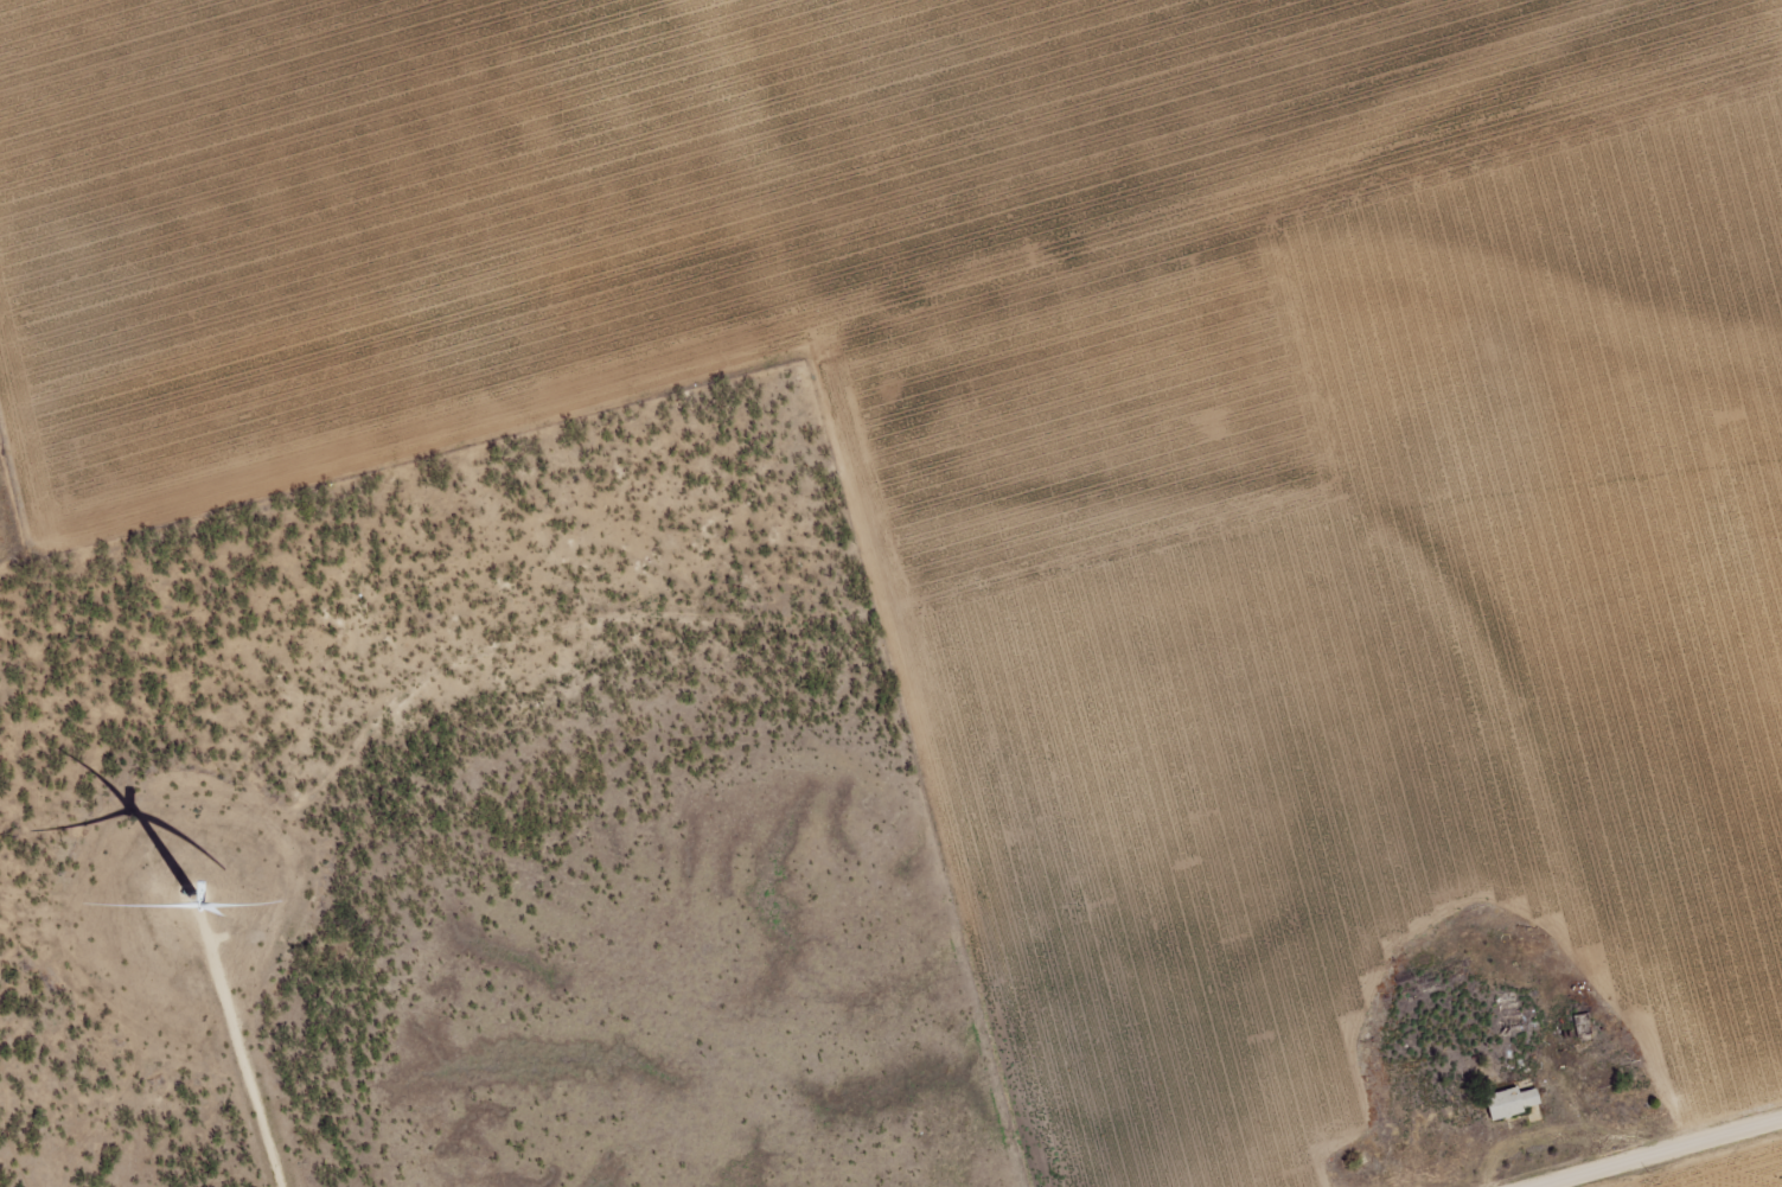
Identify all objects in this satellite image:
wind turbine: (191, 895)
building: (1582, 1023)
building: (1514, 1025)
building: (1510, 1100)
road: (1650, 1150)

